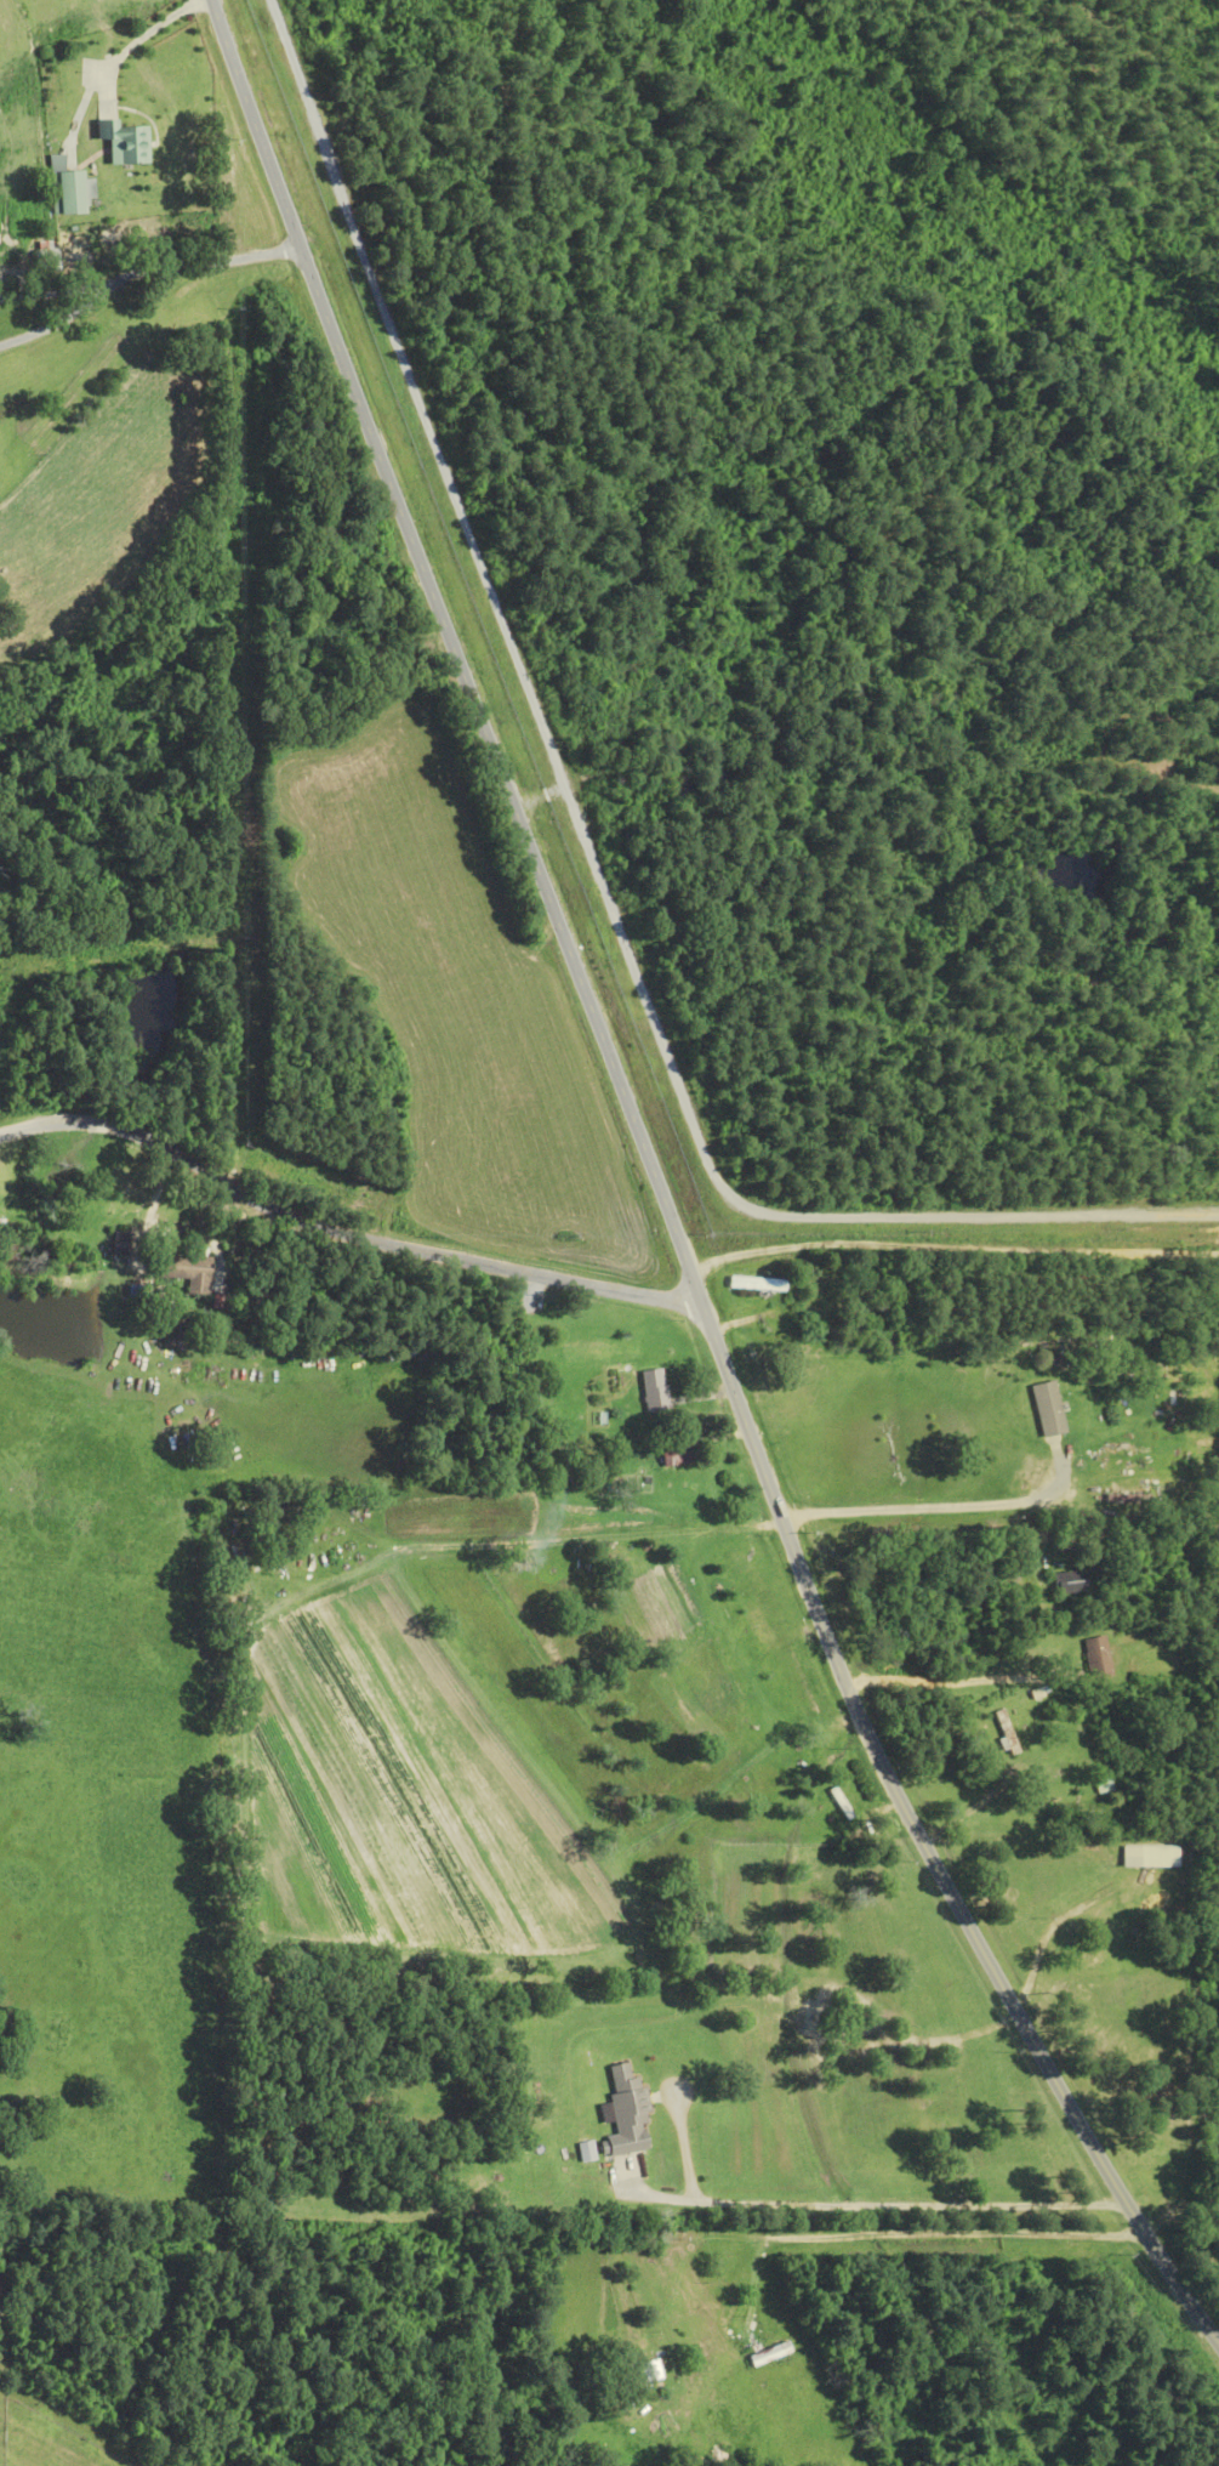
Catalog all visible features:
building: (123, 141)
building: (68, 192)
road: (205, 265)
road: (55, 292)
road: (58, 319)
road: (579, 836)
road: (660, 1199)
road: (340, 1232)
building: (121, 1244)
building: (186, 1271)
building: (756, 1284)
building: (820, 1295)
building: (654, 1390)
building: (1048, 1408)
building: (677, 1455)
road: (930, 1512)
building: (1069, 1581)
building: (1096, 1658)
road: (963, 1680)
building: (1006, 1732)
building: (1147, 1856)
building: (623, 2110)
road: (873, 2205)
road: (827, 2233)
building: (646, 2369)

